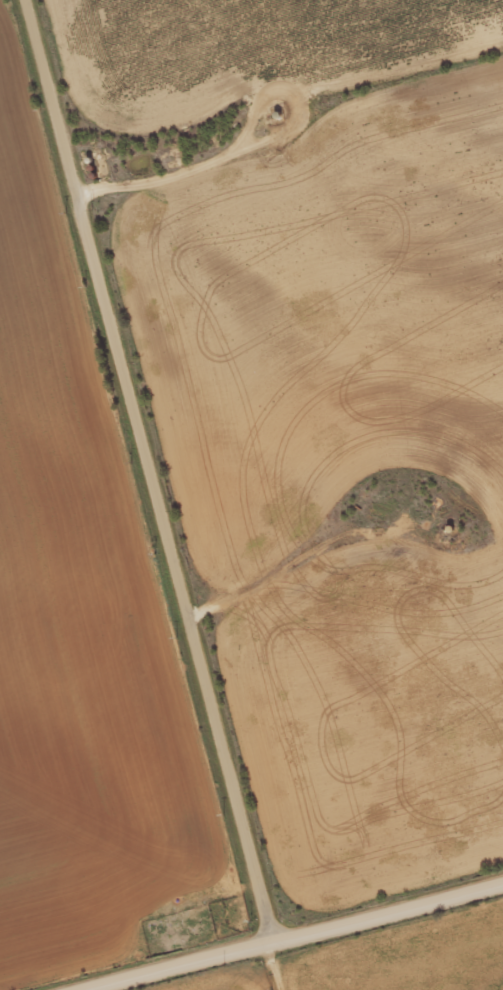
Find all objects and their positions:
road: (161, 478)
road: (330, 944)

